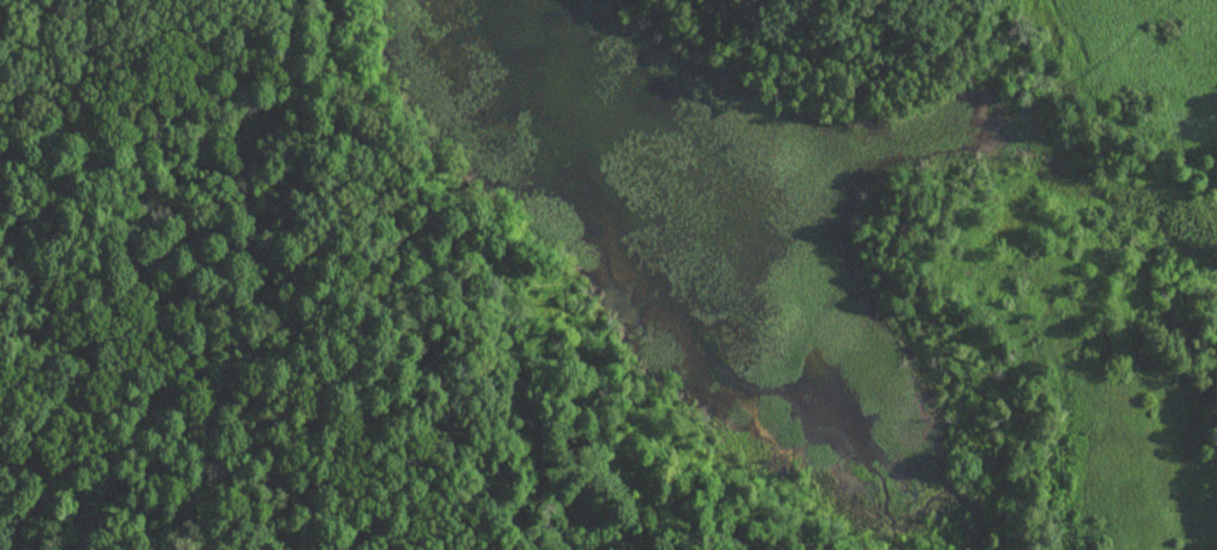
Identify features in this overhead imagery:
road: (931, 89)

